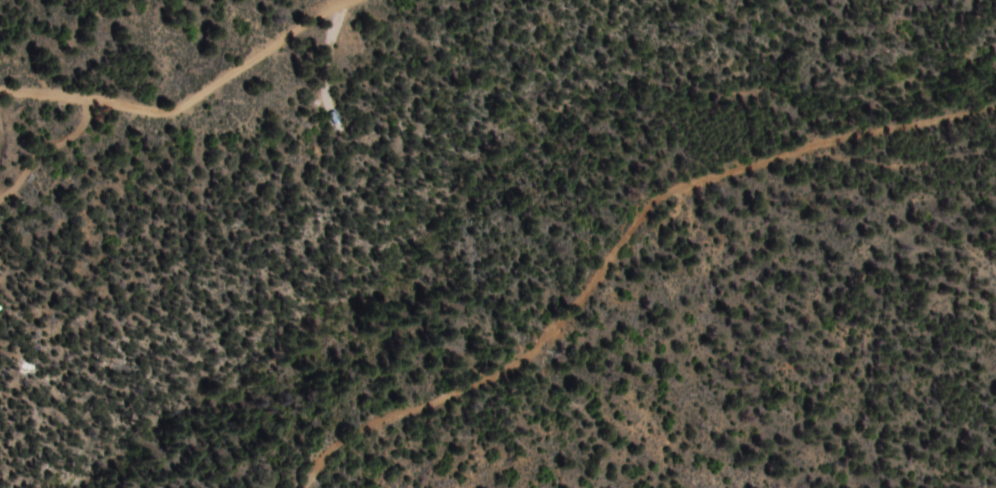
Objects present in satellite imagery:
road: (188, 99)
road: (609, 235)

